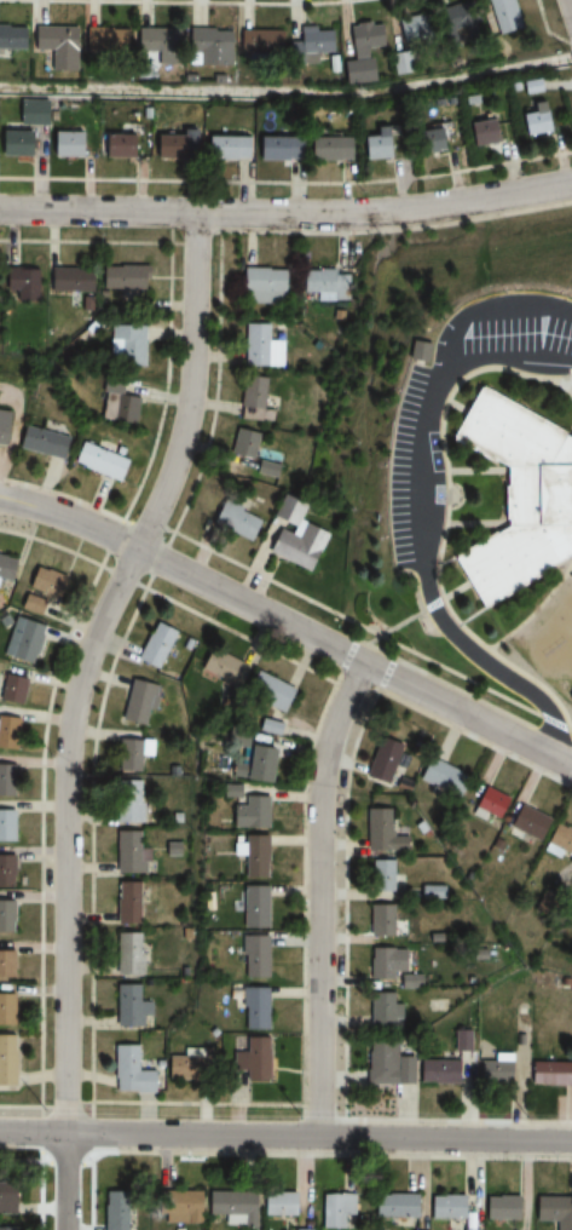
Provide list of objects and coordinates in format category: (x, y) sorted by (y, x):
road: (571, 2)
building: (503, 16)
building: (456, 22)
building: (411, 29)
building: (11, 39)
building: (103, 41)
building: (155, 41)
building: (258, 41)
building: (308, 44)
building: (53, 47)
building: (207, 47)
building: (359, 52)
building: (399, 64)
building: (531, 120)
building: (478, 132)
building: (15, 143)
building: (377, 143)
building: (64, 144)
building: (172, 144)
building: (116, 145)
building: (223, 148)
building: (275, 148)
building: (327, 149)
road: (287, 215)
building: (122, 276)
building: (68, 280)
building: (19, 282)
building: (325, 284)
building: (261, 286)
road: (489, 306)
building: (126, 345)
building: (259, 346)
road: (499, 357)
building: (252, 401)
building: (116, 408)
building: (1, 423)
parking lot: (401, 431)
building: (37, 442)
building: (242, 449)
building: (96, 462)
building: (267, 471)
road: (412, 476)
road: (435, 478)
building: (515, 498)
building: (233, 522)
building: (291, 536)
building: (4, 567)
building: (42, 582)
building: (30, 604)
road: (289, 625)
building: (21, 640)
building: (154, 645)
road: (490, 667)
building: (220, 669)
building: (11, 689)
building: (266, 691)
building: (138, 702)
road: (76, 711)
building: (7, 734)
building: (132, 754)
building: (381, 760)
building: (254, 764)
building: (440, 777)
building: (6, 781)
building: (128, 801)
building: (487, 803)
building: (248, 814)
building: (525, 823)
building: (5, 827)
building: (380, 833)
building: (559, 840)
building: (128, 853)
building: (252, 857)
building: (5, 872)
building: (381, 876)
road: (320, 896)
building: (125, 903)
building: (252, 908)
building: (5, 916)
building: (380, 921)
building: (127, 954)
building: (252, 958)
building: (382, 964)
building: (5, 965)
building: (129, 1006)
building: (5, 1010)
building: (252, 1010)
building: (380, 1011)
building: (250, 1059)
building: (6, 1061)
building: (186, 1065)
building: (383, 1065)
building: (492, 1070)
building: (126, 1071)
building: (435, 1073)
building: (548, 1074)
road: (285, 1136)
building: (5, 1197)
building: (275, 1205)
building: (177, 1207)
building: (392, 1207)
building: (229, 1208)
building: (444, 1208)
building: (498, 1208)
building: (111, 1211)
building: (334, 1211)
building: (553, 1212)
building: (6, 1229)

